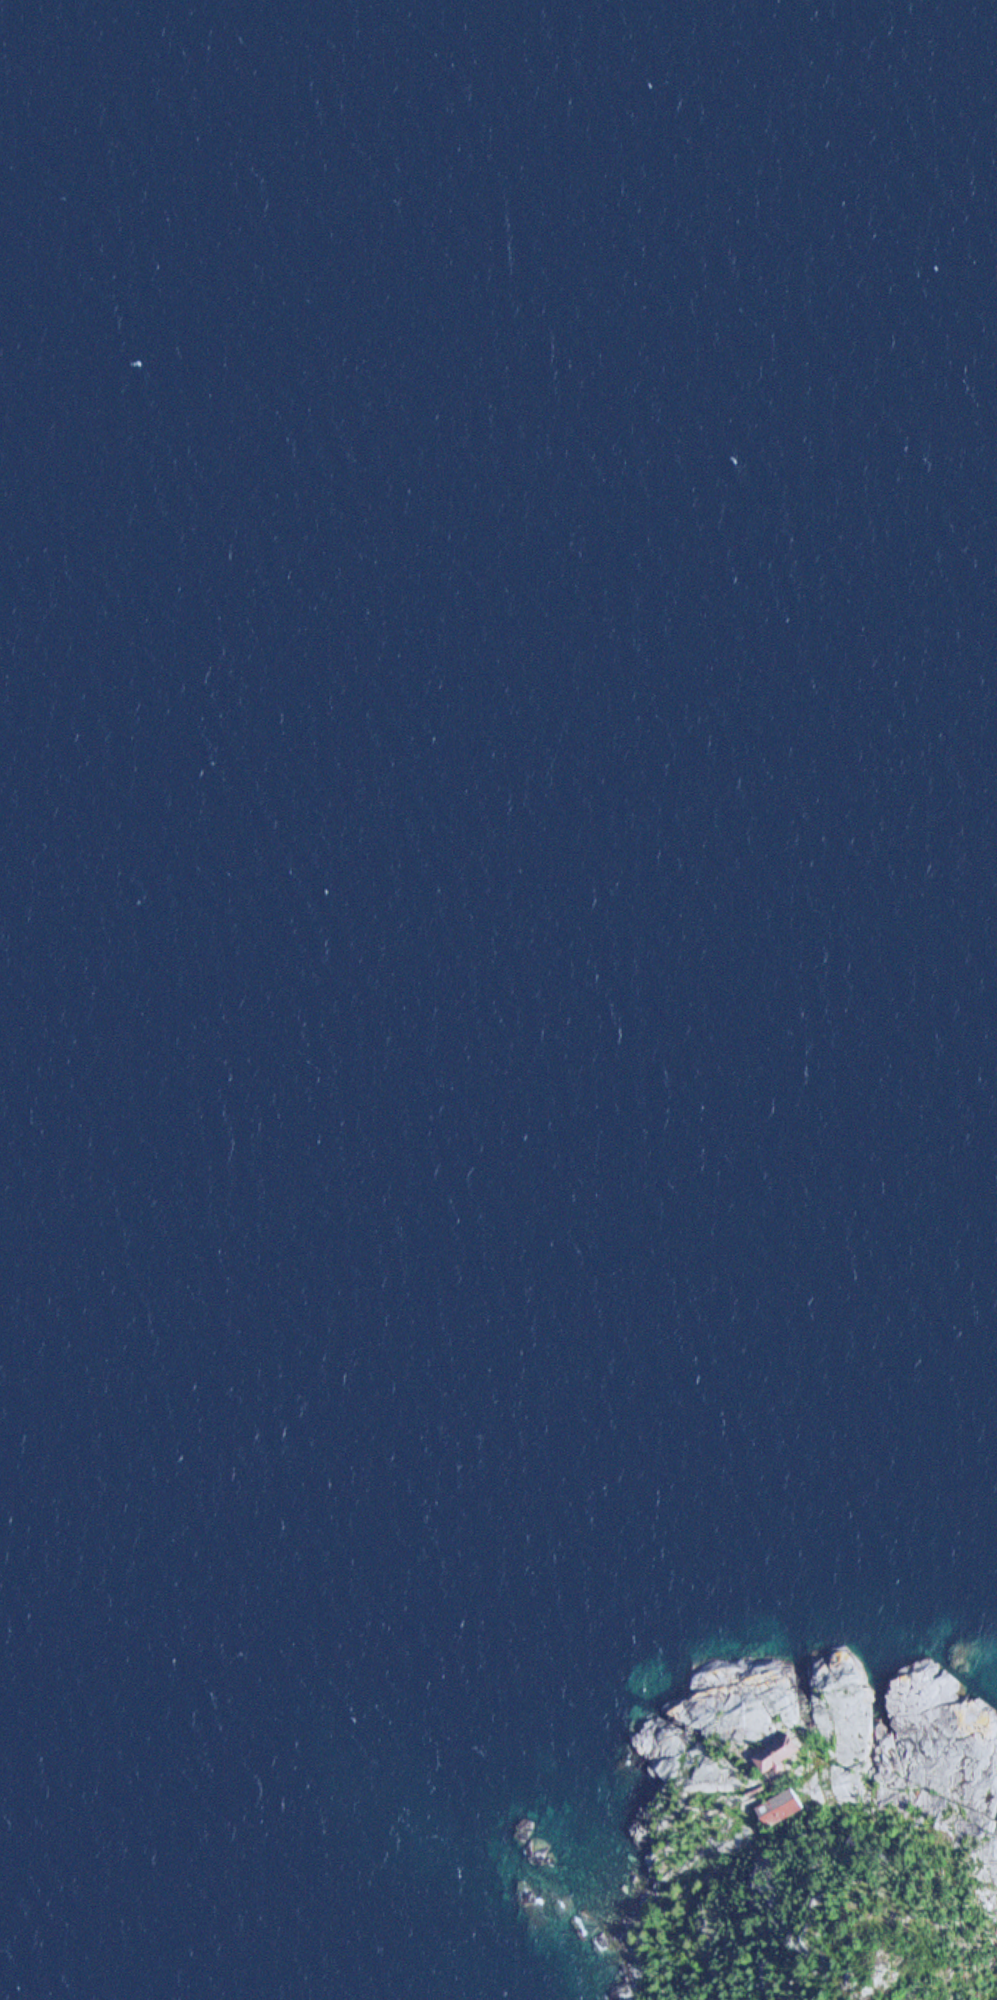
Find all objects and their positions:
building: (768, 1747)
building: (766, 1801)
road: (706, 1924)

